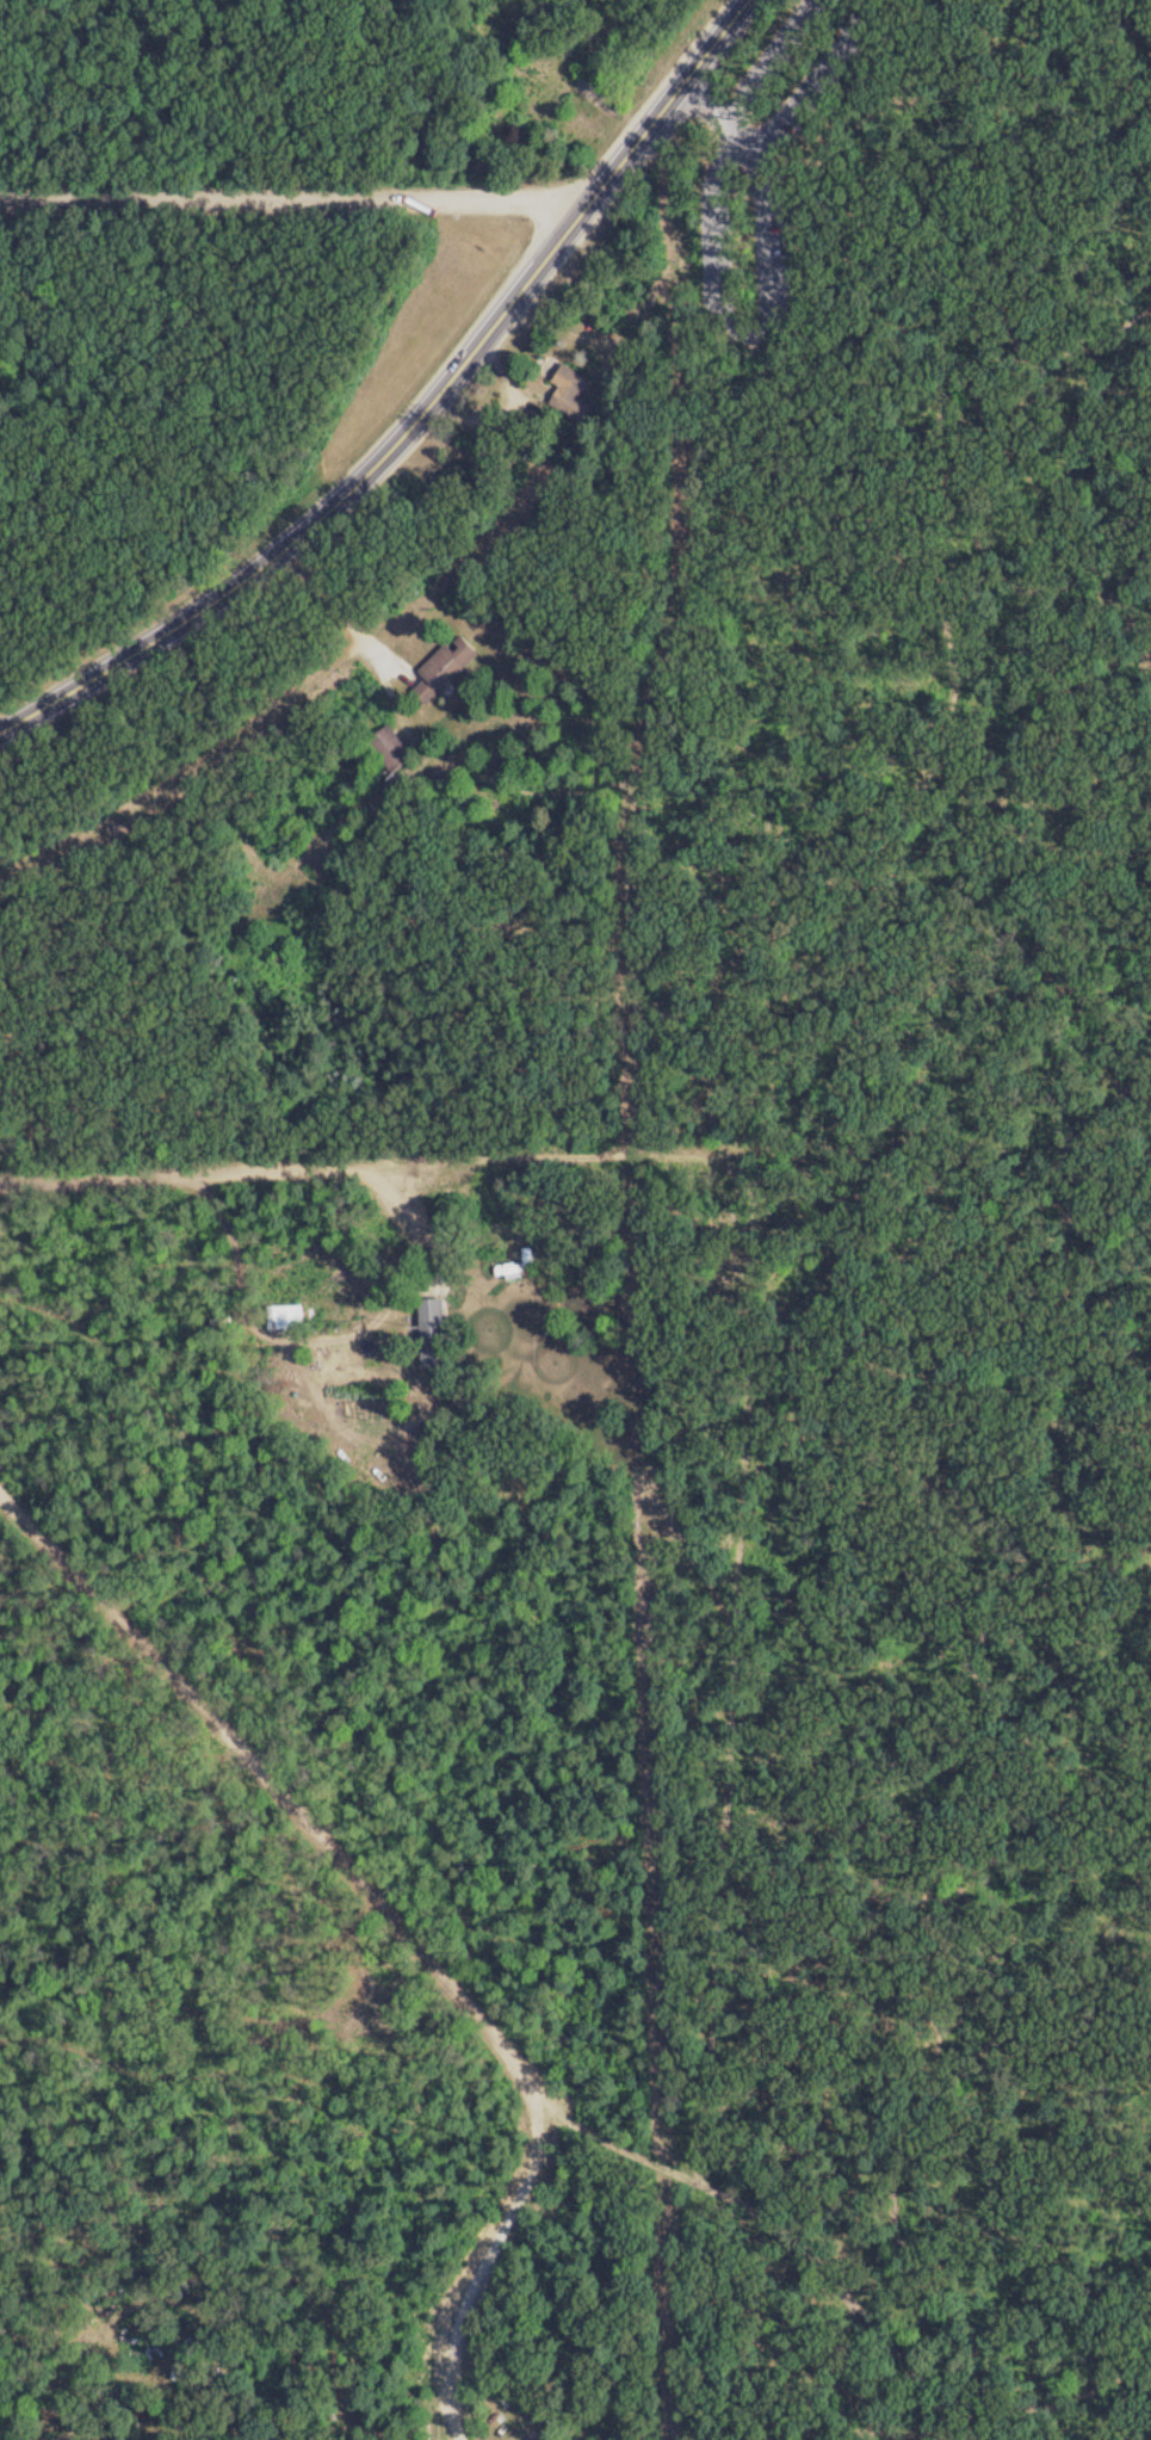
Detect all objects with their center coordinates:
parking lot: (786, 47)
road: (776, 54)
road: (1124, 56)
parking lot: (824, 82)
road: (825, 84)
road: (291, 198)
road: (833, 226)
parking lot: (718, 231)
parking lot: (774, 248)
road: (774, 272)
road: (1007, 303)
building: (574, 394)
road: (422, 418)
road: (953, 490)
road: (338, 609)
building: (448, 667)
building: (394, 748)
road: (249, 1169)
road: (887, 1211)
building: (287, 1316)
building: (437, 1333)
road: (266, 1781)
road: (489, 2251)

